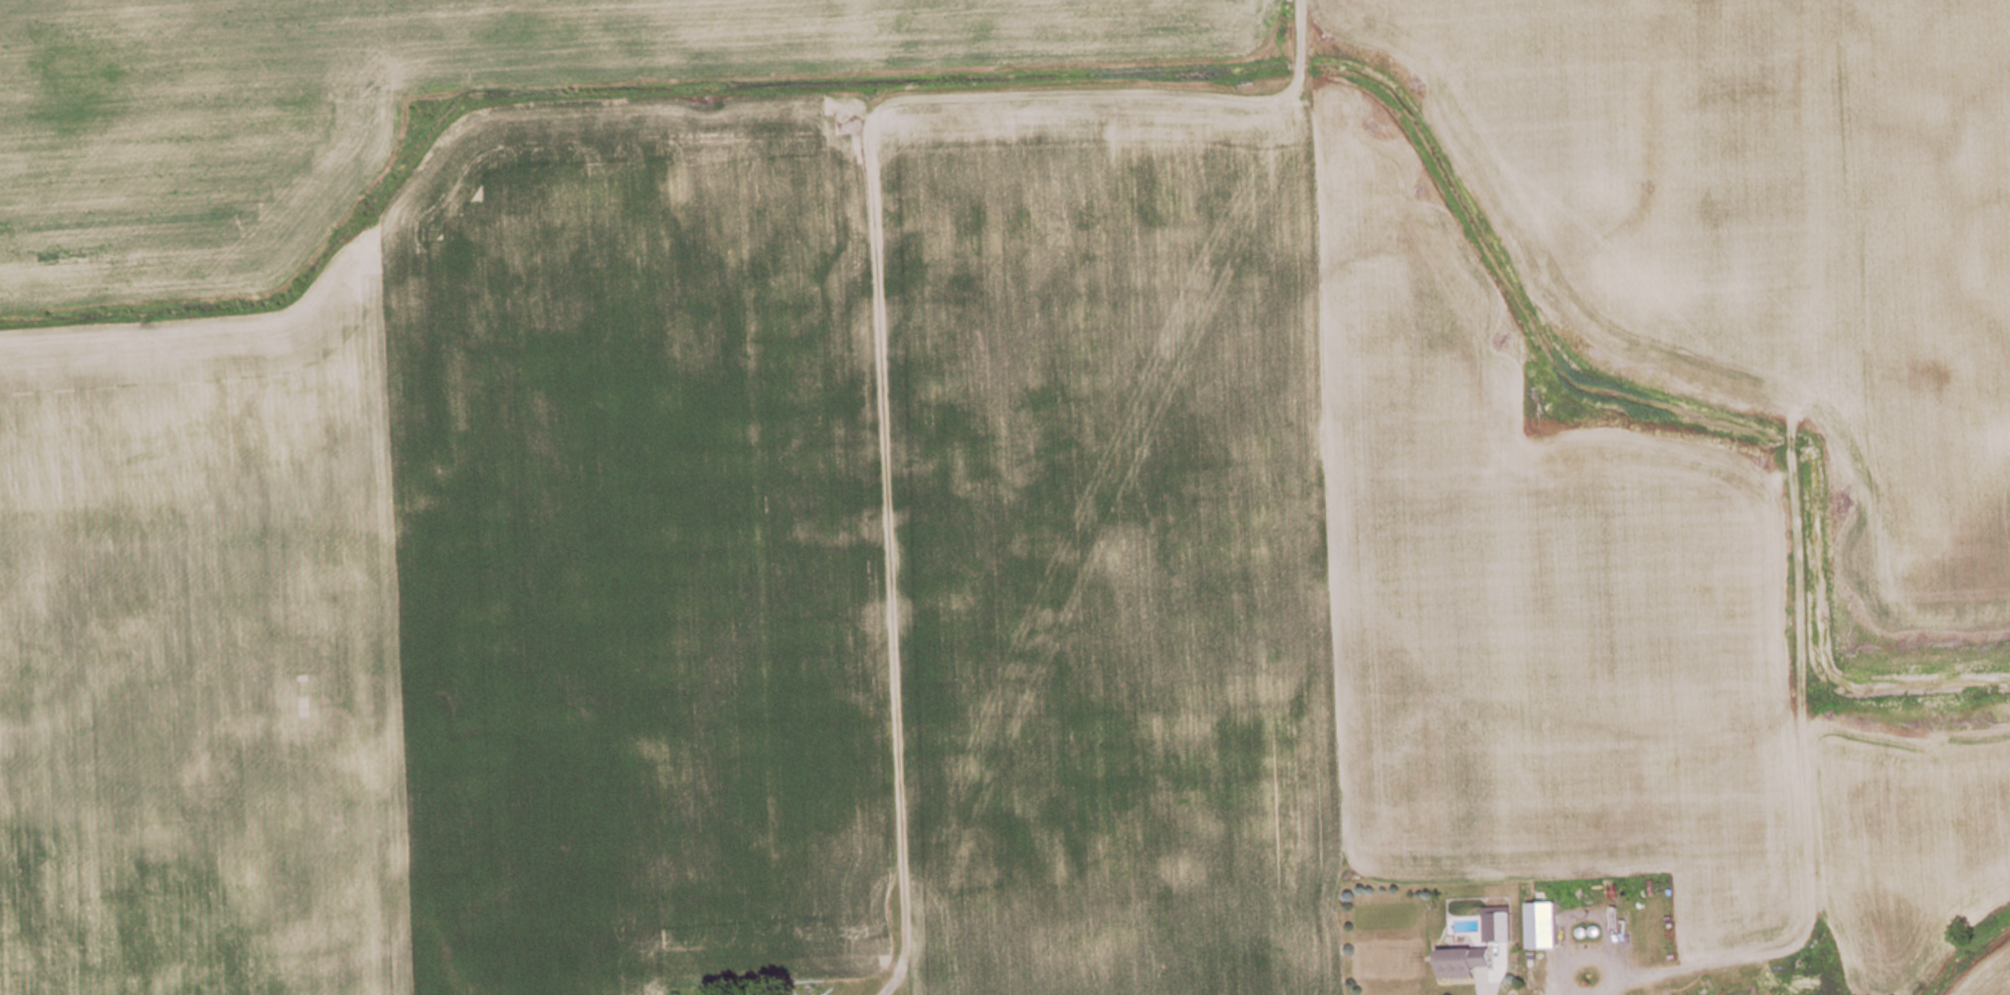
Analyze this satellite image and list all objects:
building: (1543, 927)
building: (1463, 965)

